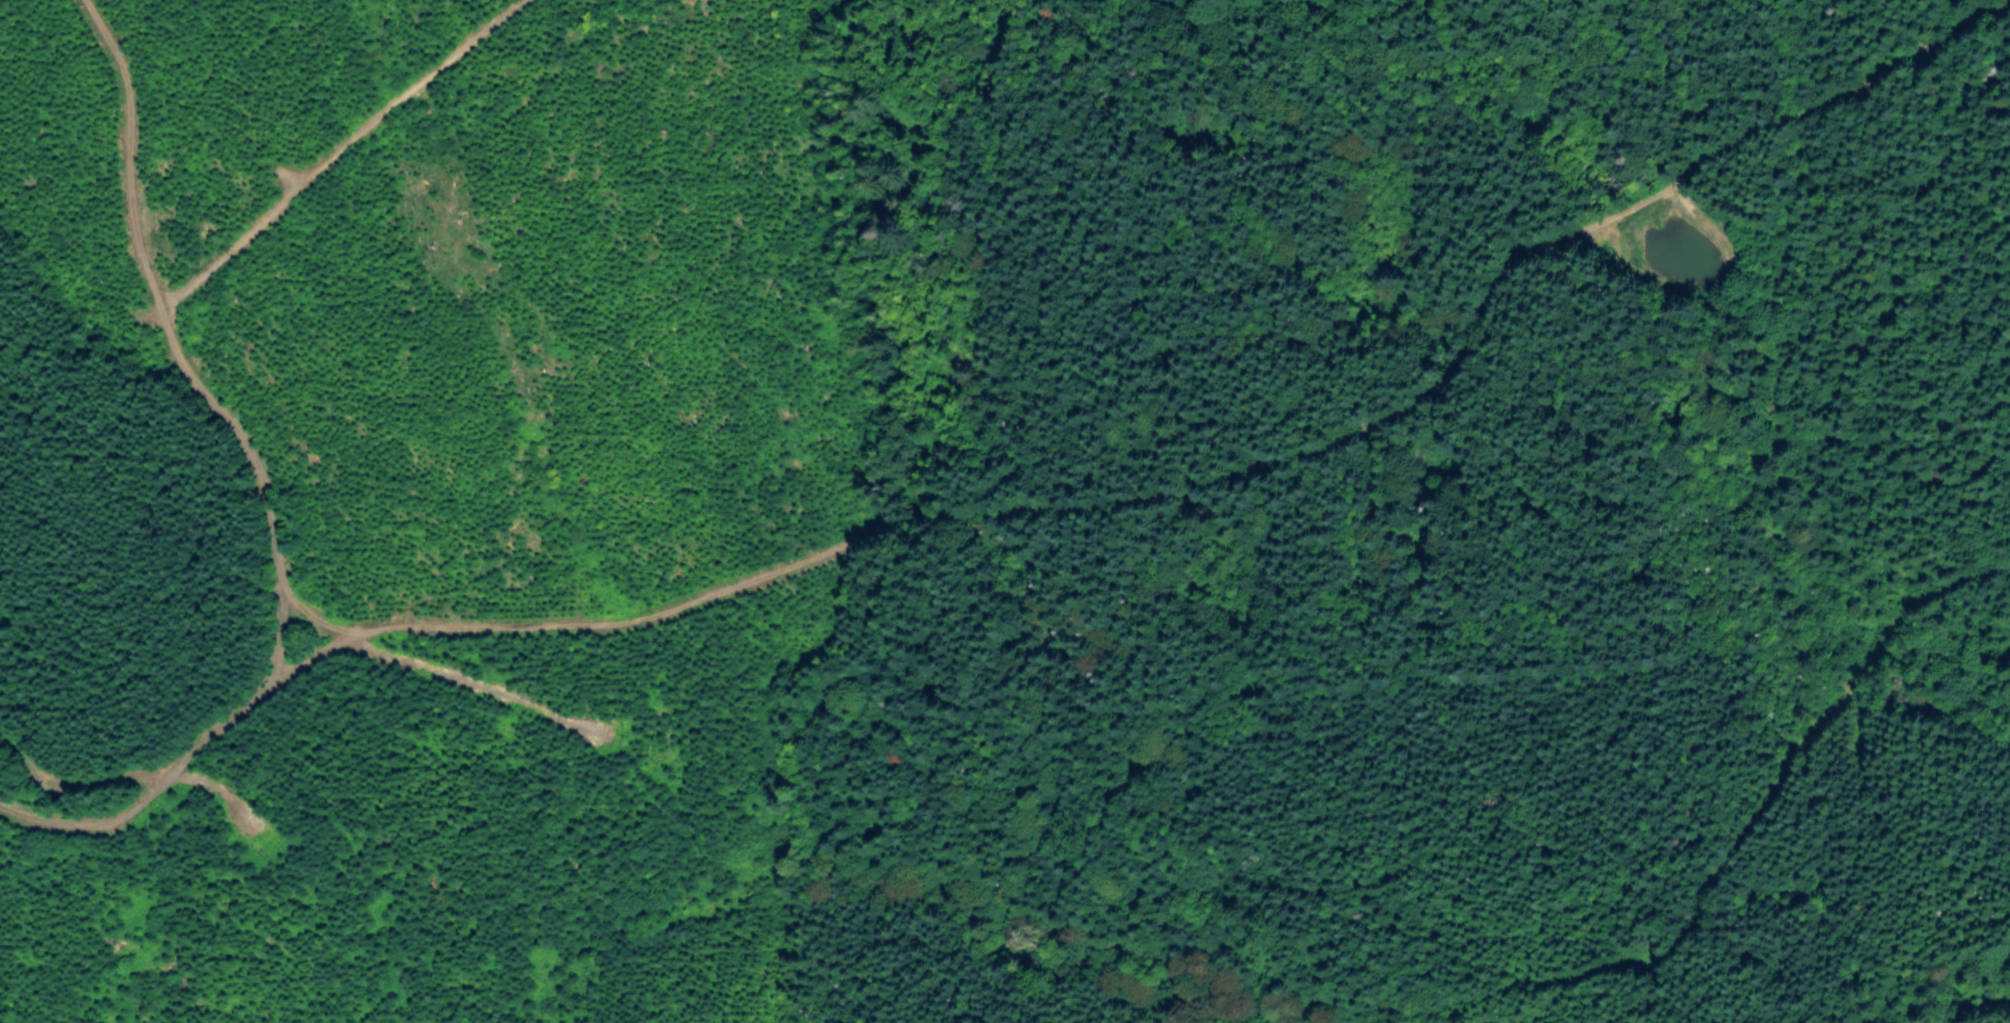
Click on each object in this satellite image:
road: (2007, 1020)

